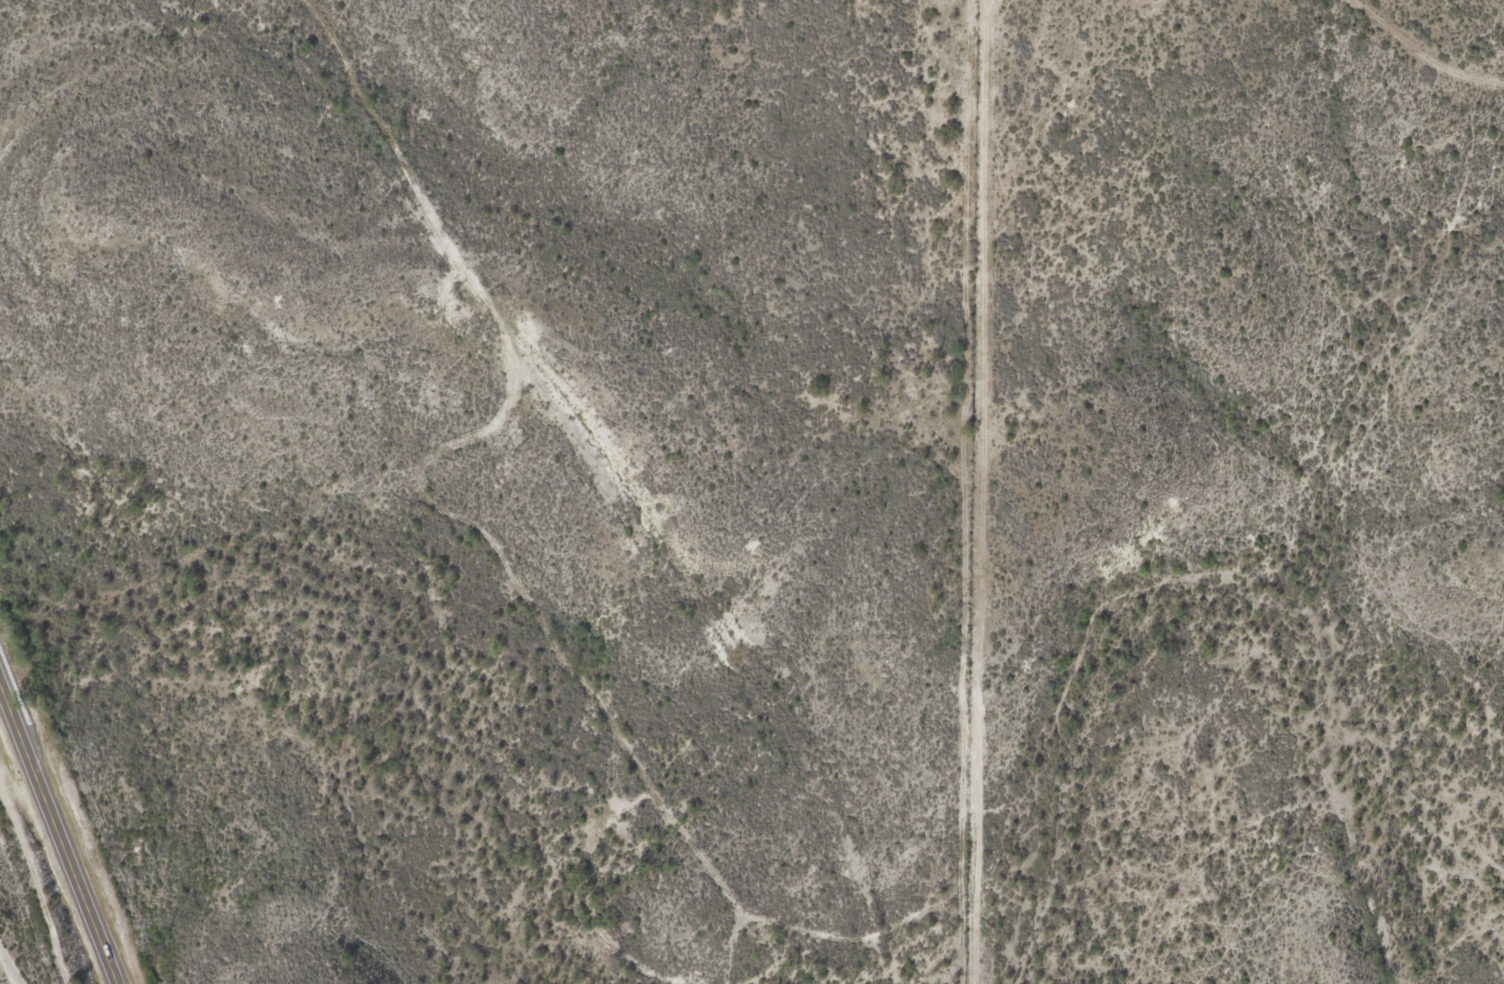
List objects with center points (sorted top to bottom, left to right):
road: (1422, 51)
road: (629, 478)
road: (60, 827)

